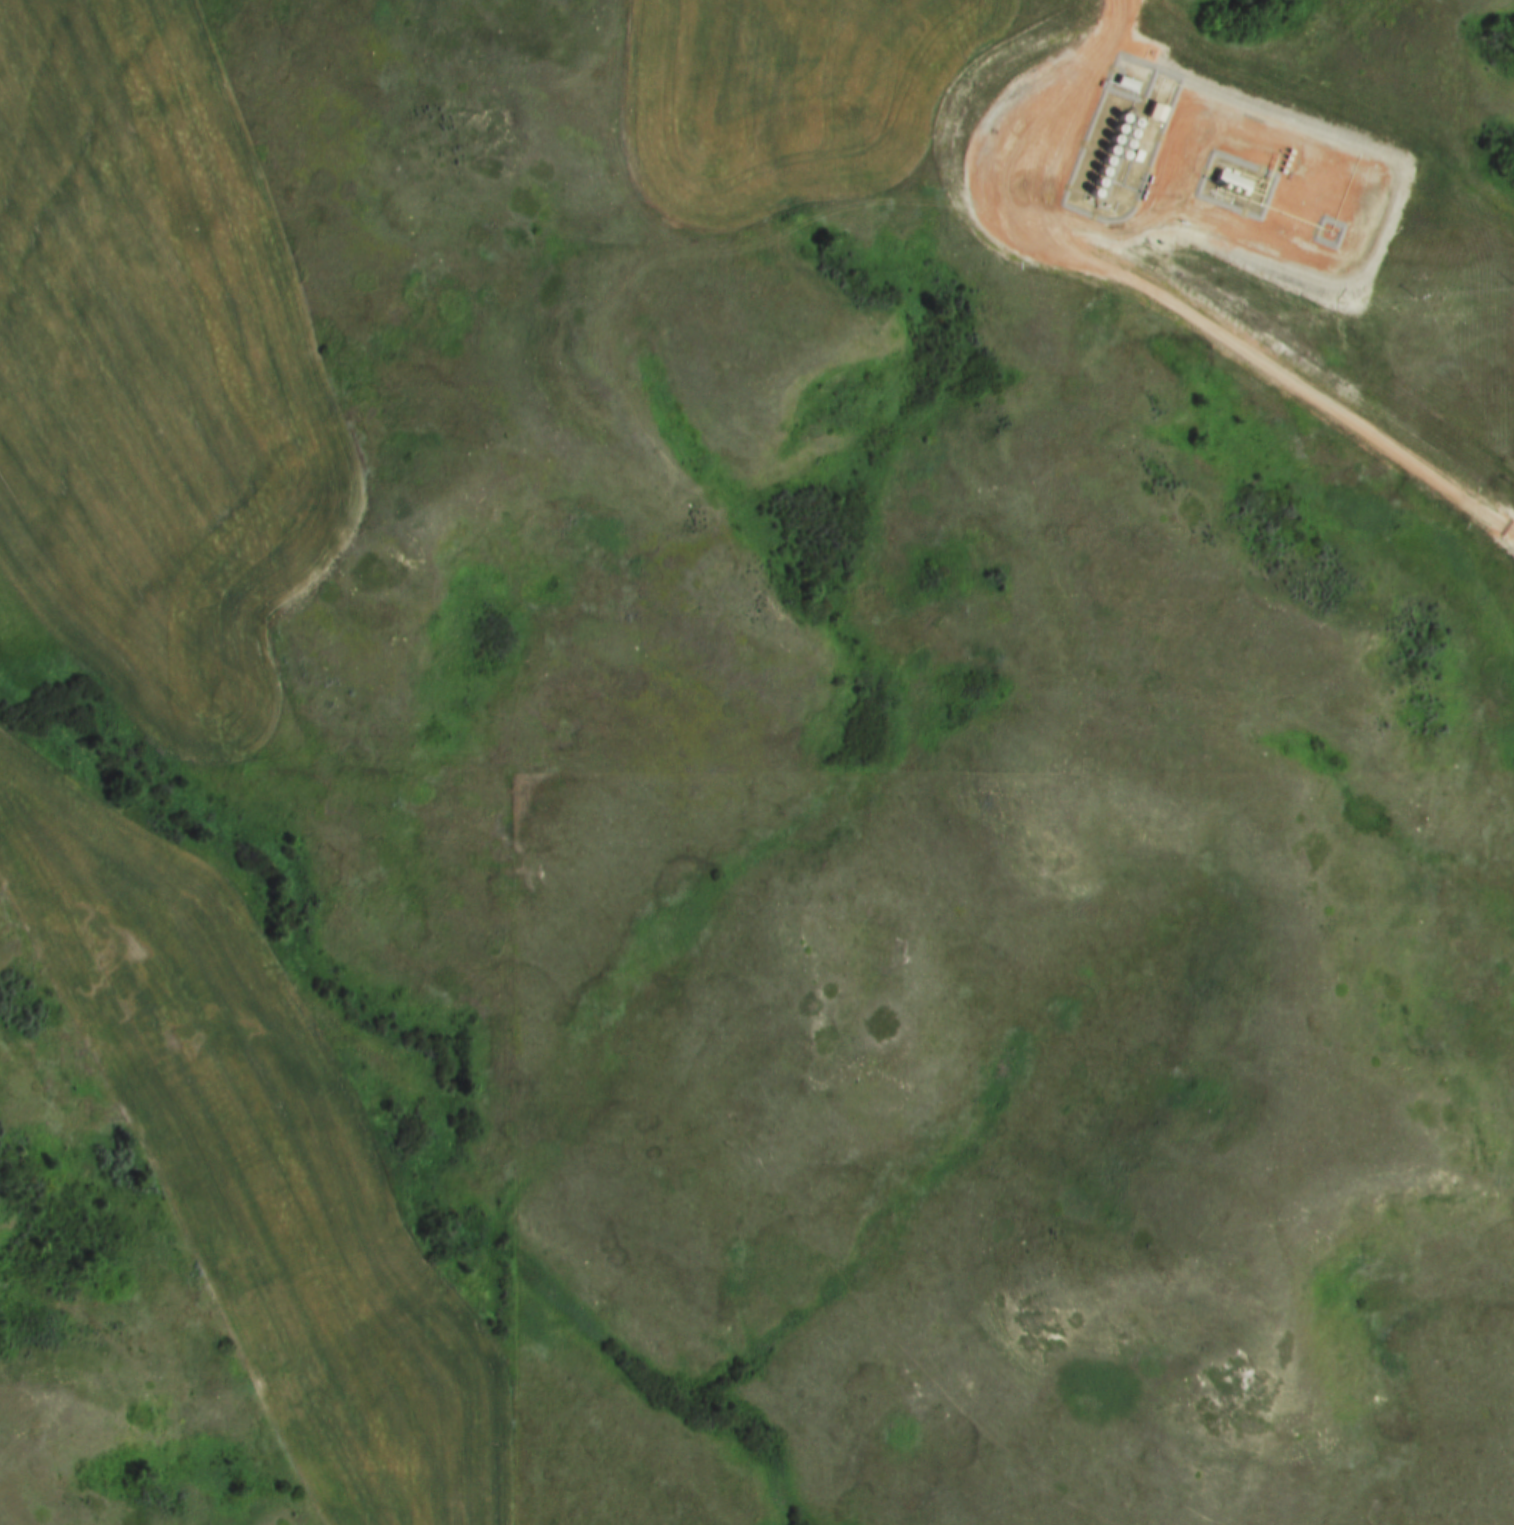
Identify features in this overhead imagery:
building: (1125, 82)
building: (1153, 111)
building: (1135, 154)
building: (1330, 234)
road: (1190, 304)

